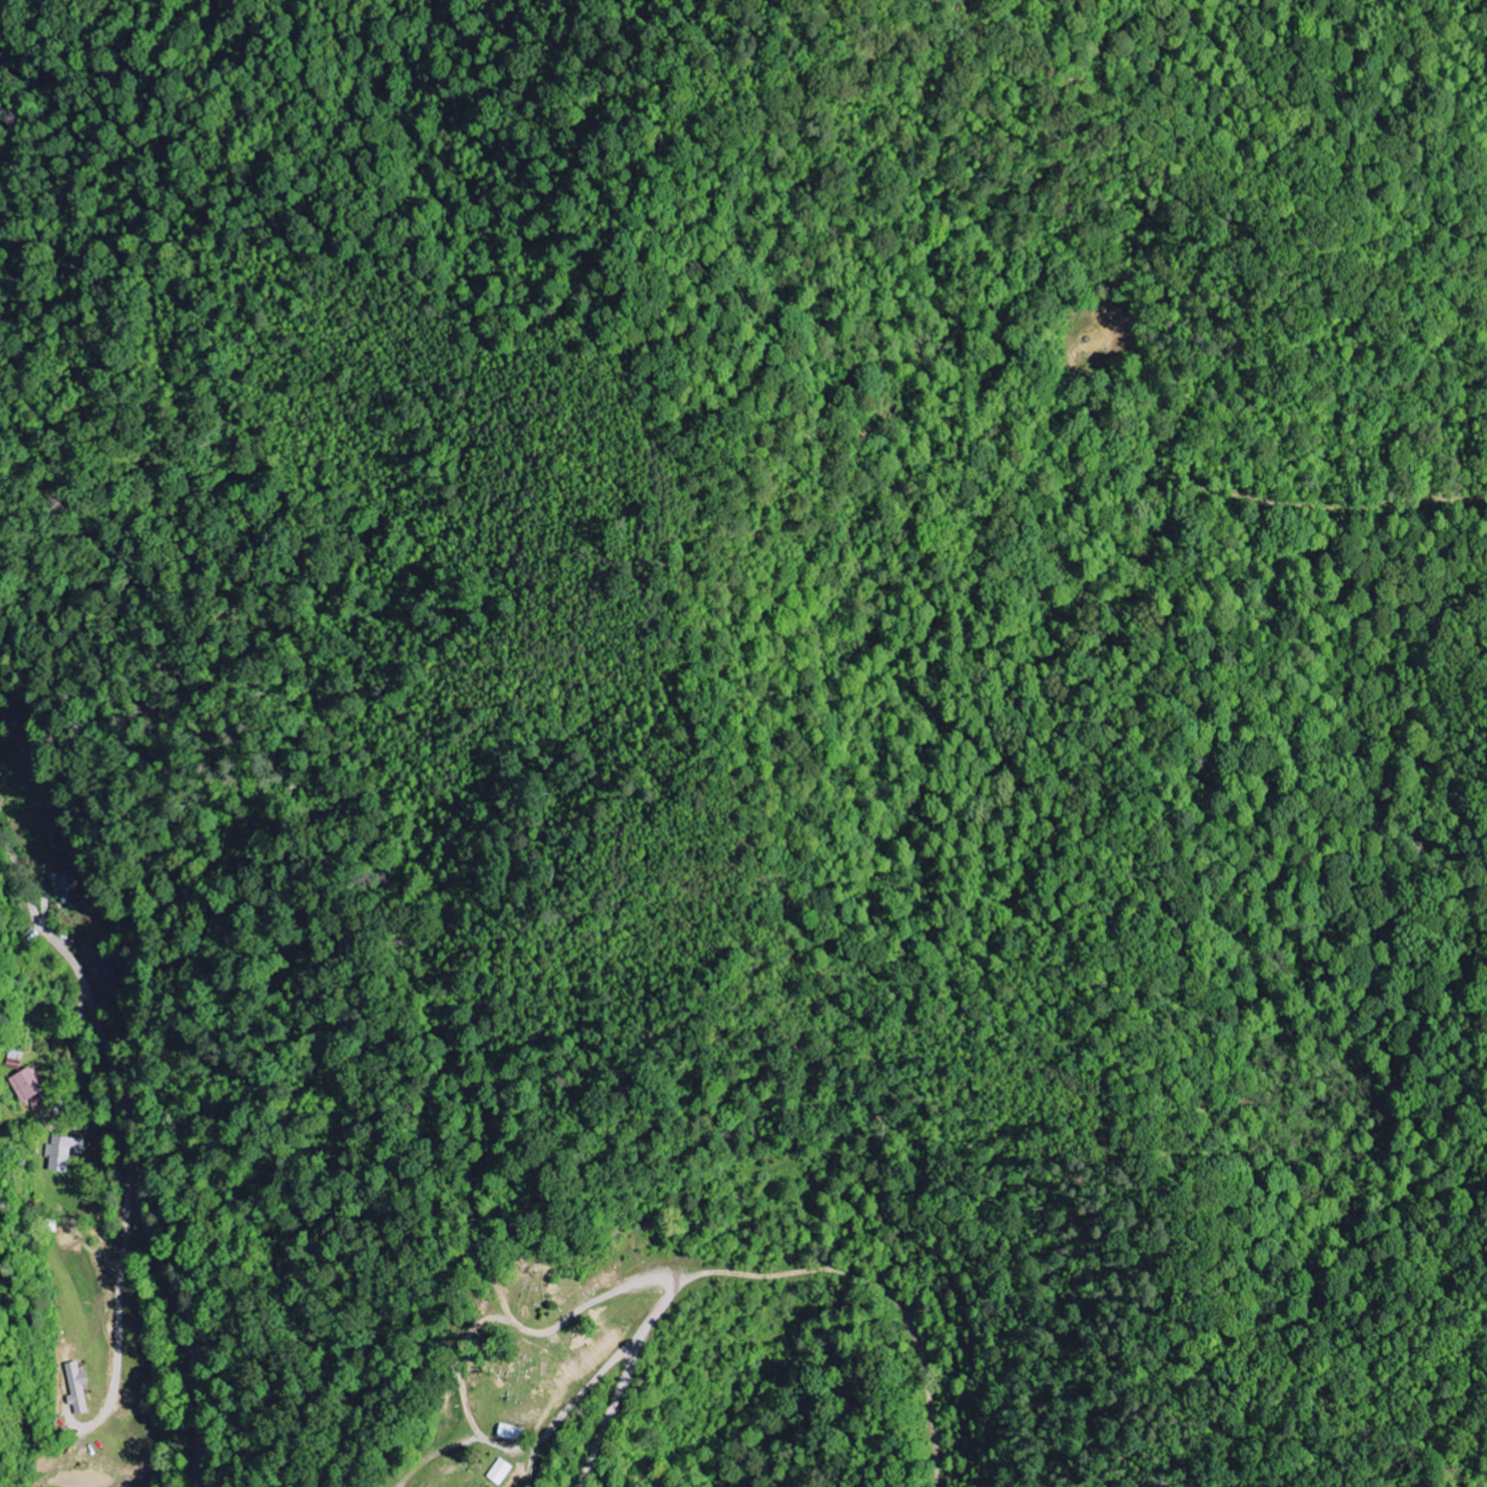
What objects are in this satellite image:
building: (65, 886)
building: (108, 978)
building: (14, 1059)
building: (26, 1085)
building: (38, 1103)
road: (128, 1147)
building: (63, 1152)
road: (667, 1305)
building: (77, 1388)
road: (576, 1399)
building: (500, 1472)

